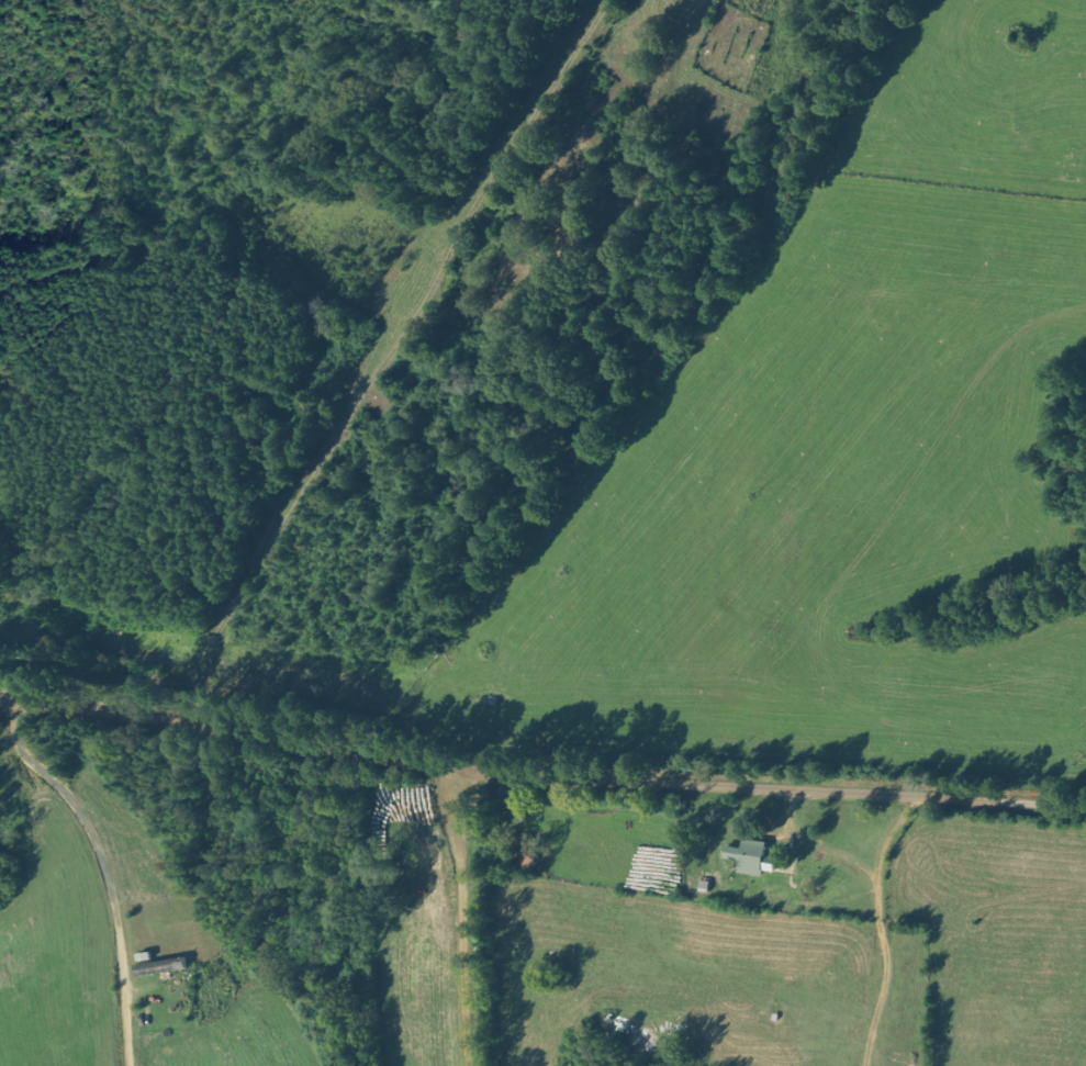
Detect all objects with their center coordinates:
road: (569, 394)
road: (539, 789)
building: (748, 856)
road: (516, 912)
building: (160, 966)

